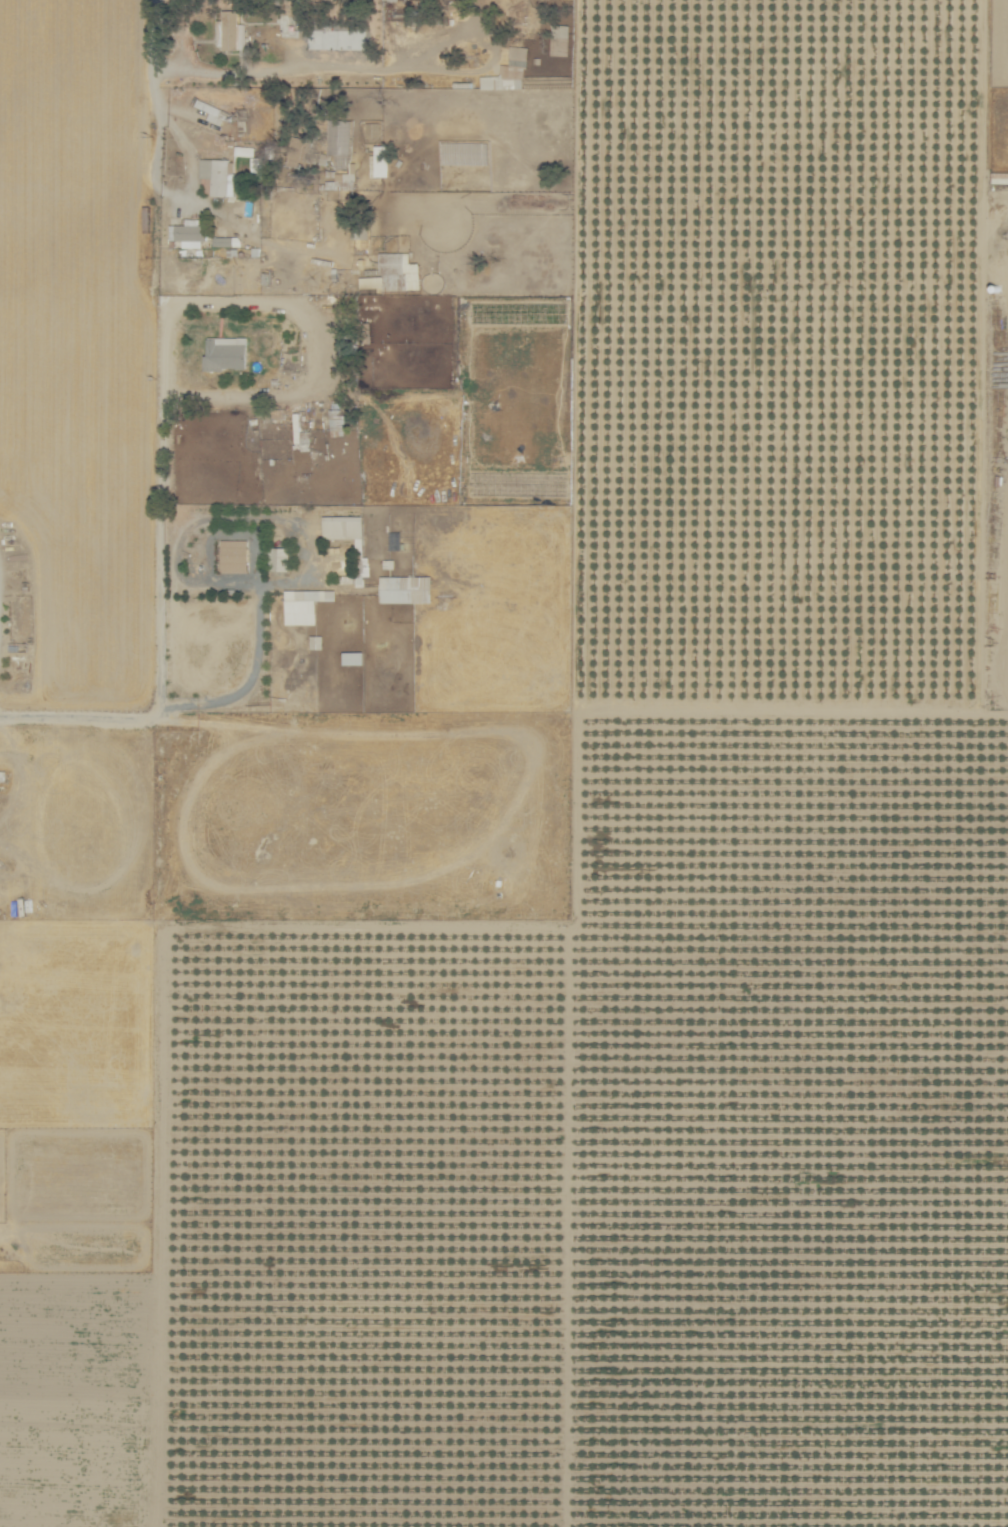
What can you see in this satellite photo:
building: (230, 30)
building: (562, 30)
building: (508, 71)
building: (372, 128)
building: (294, 150)
building: (379, 159)
building: (217, 173)
road: (199, 202)
building: (188, 231)
building: (223, 239)
building: (393, 272)
building: (224, 352)
road: (158, 514)
building: (342, 526)
building: (233, 555)
building: (277, 558)
building: (405, 588)
building: (300, 606)
road: (570, 836)
crop: (623, 1182)

